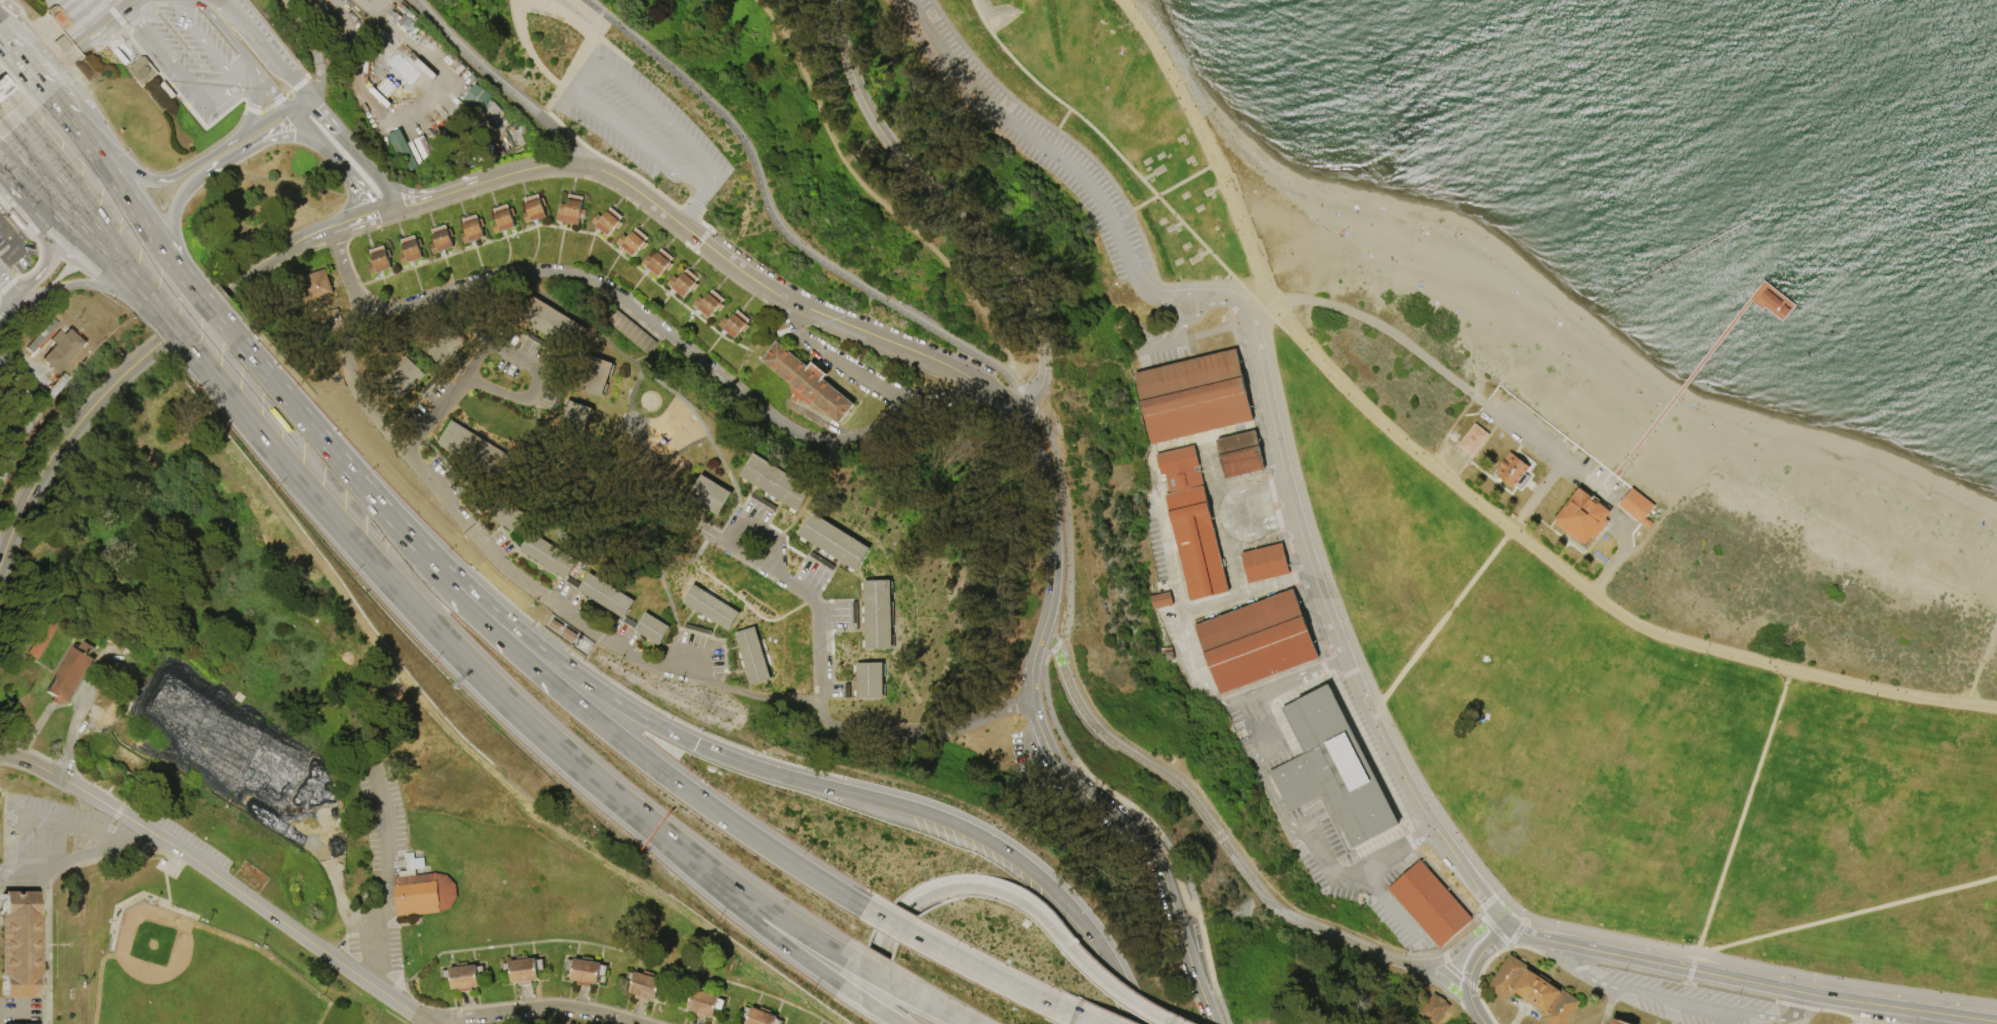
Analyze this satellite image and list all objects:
road: (104, 3)
building: (393, 7)
road: (80, 10)
building: (409, 13)
road: (115, 14)
road: (560, 14)
road: (116, 16)
building: (57, 17)
road: (85, 20)
building: (404, 22)
road: (93, 26)
road: (223, 32)
road: (72, 37)
road: (275, 38)
road: (85, 39)
building: (61, 43)
road: (253, 43)
road: (311, 45)
road: (526, 47)
parking lot: (204, 48)
road: (208, 48)
road: (68, 54)
road: (472, 61)
road: (569, 64)
road: (175, 65)
building: (411, 65)
road: (24, 66)
building: (426, 68)
building: (79, 69)
building: (140, 70)
building: (404, 73)
road: (62, 75)
road: (247, 79)
road: (583, 79)
toll booth: (0, 85)
building: (4, 85)
building: (387, 88)
road: (302, 89)
building: (166, 90)
road: (272, 91)
road: (190, 96)
building: (379, 97)
road: (278, 100)
road: (182, 101)
road: (298, 101)
building: (485, 104)
road: (417, 113)
road: (252, 114)
road: (662, 118)
parking lot: (639, 123)
road: (74, 125)
road: (256, 126)
road: (1056, 127)
road: (271, 128)
road: (2, 132)
road: (341, 132)
road: (625, 132)
road: (115, 134)
building: (508, 134)
road: (1029, 134)
building: (448, 135)
road: (290, 136)
parking lot: (1026, 136)
road: (316, 138)
road: (565, 139)
road: (1210, 144)
building: (405, 149)
building: (424, 149)
road: (1116, 153)
road: (21, 154)
road: (33, 158)
road: (62, 162)
road: (209, 167)
road: (28, 177)
road: (163, 180)
road: (693, 181)
road: (402, 188)
road: (462, 189)
road: (1164, 190)
road: (364, 191)
road: (873, 195)
road: (947, 200)
road: (351, 202)
road: (83, 203)
road: (22, 204)
road: (697, 205)
road: (409, 206)
building: (535, 208)
building: (573, 210)
road: (19, 212)
building: (504, 218)
building: (12, 219)
road: (49, 220)
road: (142, 220)
road: (773, 220)
building: (609, 221)
road: (358, 222)
building: (473, 229)
road: (77, 233)
road: (32, 236)
road: (313, 237)
building: (442, 239)
road: (13, 240)
road: (99, 240)
road: (171, 240)
building: (634, 242)
parking lot: (14, 247)
road: (48, 248)
road: (70, 249)
building: (412, 249)
building: (380, 260)
road: (4, 261)
building: (659, 262)
road: (259, 265)
road: (344, 272)
road: (751, 278)
building: (685, 283)
road: (9, 284)
road: (27, 284)
road: (89, 284)
building: (320, 287)
road: (10, 288)
road: (125, 294)
road: (1152, 296)
road: (1176, 299)
building: (1770, 299)
pier: (1770, 301)
building: (710, 303)
road: (1240, 303)
road: (209, 306)
building: (1782, 309)
road: (10, 310)
road: (191, 316)
building: (551, 322)
building: (736, 324)
road: (1375, 325)
road: (1171, 330)
building: (633, 331)
road: (1177, 333)
building: (42, 335)
road: (174, 335)
road: (667, 336)
parking lot: (1154, 340)
building: (442, 344)
road: (1152, 348)
building: (64, 349)
road: (19, 360)
road: (633, 364)
road: (531, 365)
building: (593, 375)
building: (402, 376)
road: (854, 377)
road: (354, 381)
building: (808, 382)
road: (475, 383)
building: (57, 386)
pier: (1680, 387)
road: (1023, 395)
building: (1192, 397)
road: (287, 398)
road: (443, 402)
road: (1021, 407)
road: (1031, 407)
building: (574, 414)
road: (982, 414)
road: (243, 417)
road: (1493, 426)
road: (1526, 434)
road: (409, 435)
road: (1208, 436)
road: (643, 439)
building: (1471, 440)
road: (64, 442)
road: (1479, 446)
building: (472, 449)
road: (1546, 452)
parking lot: (1557, 452)
flagpole: (1567, 454)
building: (1241, 455)
road: (1527, 460)
road: (1453, 462)
road: (1460, 467)
building: (1510, 470)
road: (1491, 479)
building: (775, 482)
road: (1607, 483)
road: (1532, 488)
road: (1269, 490)
road: (1252, 492)
road: (242, 494)
building: (710, 495)
road: (1535, 496)
road: (1604, 497)
building: (763, 502)
building: (1634, 506)
road: (1049, 512)
building: (507, 515)
road: (1222, 515)
building: (1580, 516)
road: (1278, 520)
road: (1550, 523)
building: (1645, 523)
building: (1193, 524)
road: (755, 526)
road: (1653, 527)
road: (1555, 533)
road: (1248, 535)
road: (1595, 537)
building: (834, 542)
road: (1571, 542)
road: (1624, 548)
road: (734, 551)
road: (1559, 553)
building: (550, 556)
park: (895, 560)
road: (1594, 560)
building: (822, 561)
building: (1266, 563)
road: (773, 564)
road: (1173, 585)
road: (1587, 590)
road: (537, 592)
road: (1245, 594)
building: (604, 595)
building: (1159, 600)
road: (812, 604)
road: (1322, 605)
building: (711, 607)
building: (879, 614)
building: (856, 616)
road: (1444, 618)
road: (424, 620)
road: (479, 621)
building: (553, 625)
road: (1043, 628)
building: (653, 629)
road: (1347, 633)
building: (567, 634)
building: (41, 638)
building: (1257, 641)
road: (695, 649)
building: (754, 656)
road: (1979, 663)
road: (818, 665)
road: (1355, 670)
road: (1790, 673)
building: (71, 674)
building: (871, 680)
road: (1280, 685)
road: (592, 686)
road: (766, 697)
road: (72, 731)
road: (919, 733)
road: (1260, 733)
road: (1061, 738)
traffic signals: (694, 744)
road: (579, 768)
building: (1333, 769)
road: (1272, 795)
road: (1099, 808)
road: (1740, 820)
road: (50, 821)
parking lot: (384, 821)
road: (1209, 822)
road: (386, 827)
parking lot: (55, 828)
road: (1225, 828)
road: (747, 834)
road: (1420, 835)
road: (1317, 849)
road: (78, 858)
road: (1376, 862)
parking lot: (1321, 871)
road: (164, 873)
road: (219, 876)
road: (1045, 884)
building: (423, 890)
road: (993, 890)
road: (1386, 902)
building: (1429, 904)
road: (1503, 908)
road: (737, 910)
road: (772, 912)
road: (1847, 916)
road: (1503, 918)
road: (358, 921)
road: (1494, 930)
road: (382, 933)
road: (1492, 939)
road: (879, 943)
building: (20, 944)
road: (59, 944)
road: (48, 945)
road: (1459, 945)
parking lot: (394, 949)
road: (1540, 954)
road: (1444, 957)
road: (966, 965)
road: (1578, 968)
building: (521, 970)
building: (584, 970)
road: (1451, 970)
road: (1759, 970)
road: (1690, 972)
road: (1584, 974)
building: (461, 976)
park: (195, 977)
road: (1467, 977)
road: (1442, 980)
road: (1478, 980)
road: (1681, 982)
road: (1750, 982)
road: (1467, 984)
building: (643, 985)
road: (1112, 991)
building: (1534, 991)
road: (1202, 997)
building: (700, 1001)
parking lot: (1686, 1002)
road: (1684, 1003)
road: (1798, 1006)
road: (533, 1007)
building: (1435, 1009)
road: (14, 1010)
road: (38, 1010)
road: (1837, 1012)
road: (1475, 1013)
road: (1872, 1014)
building: (757, 1016)
road: (1789, 1016)
road: (1931, 1019)
road: (1081, 1020)
building: (1617, 1022)
road: (1867, 1022)
building: (21, 1023)
road: (425, 1023)
road: (426, 1023)
road: (1873, 1023)

